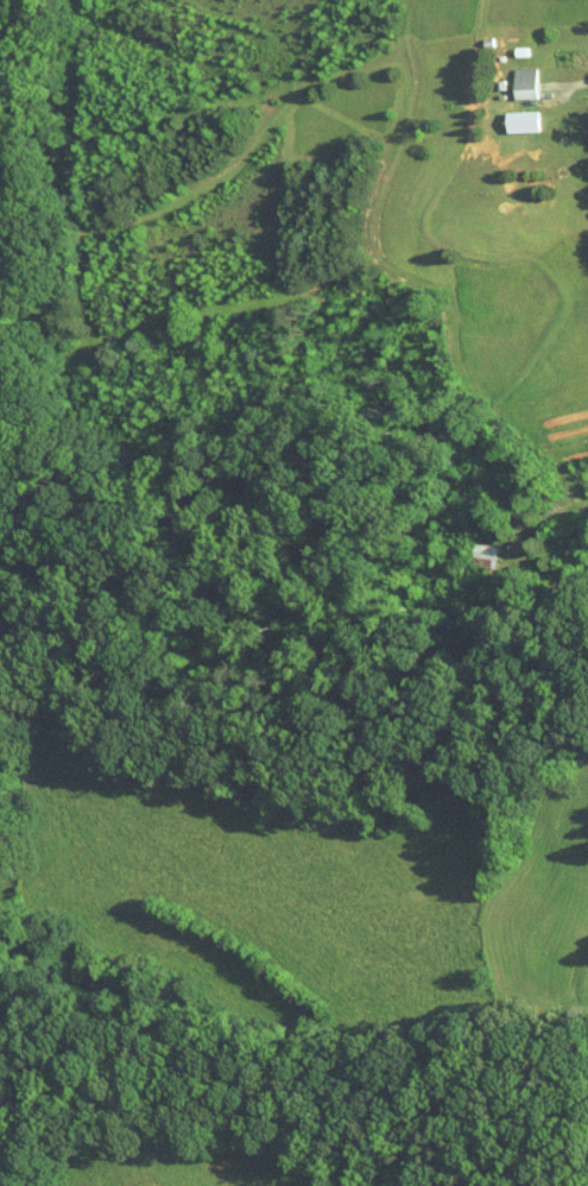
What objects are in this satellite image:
building: (523, 83)
road: (558, 516)
building: (485, 551)

